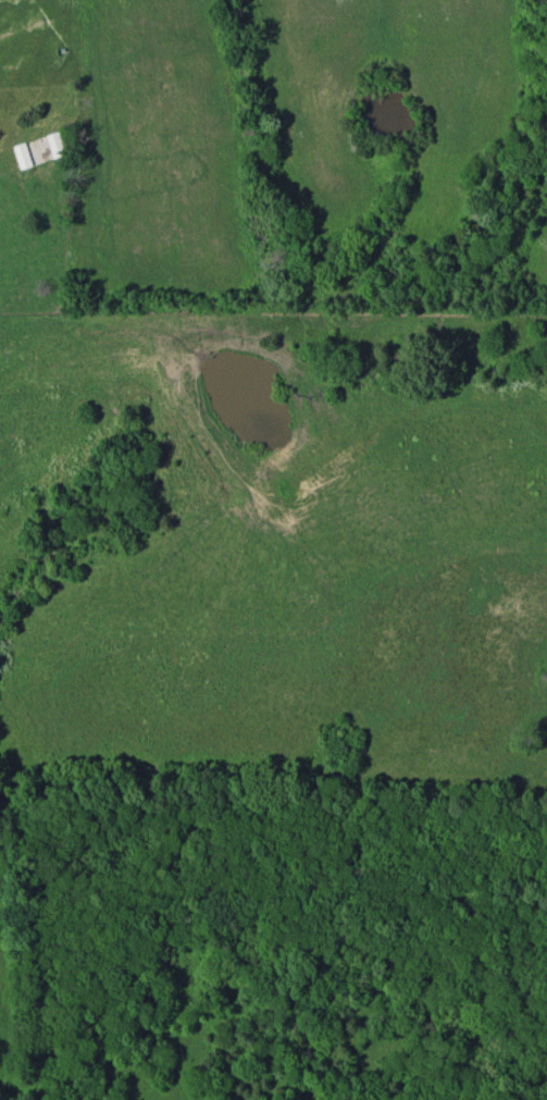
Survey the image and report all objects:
building: (53, 146)
building: (20, 157)

